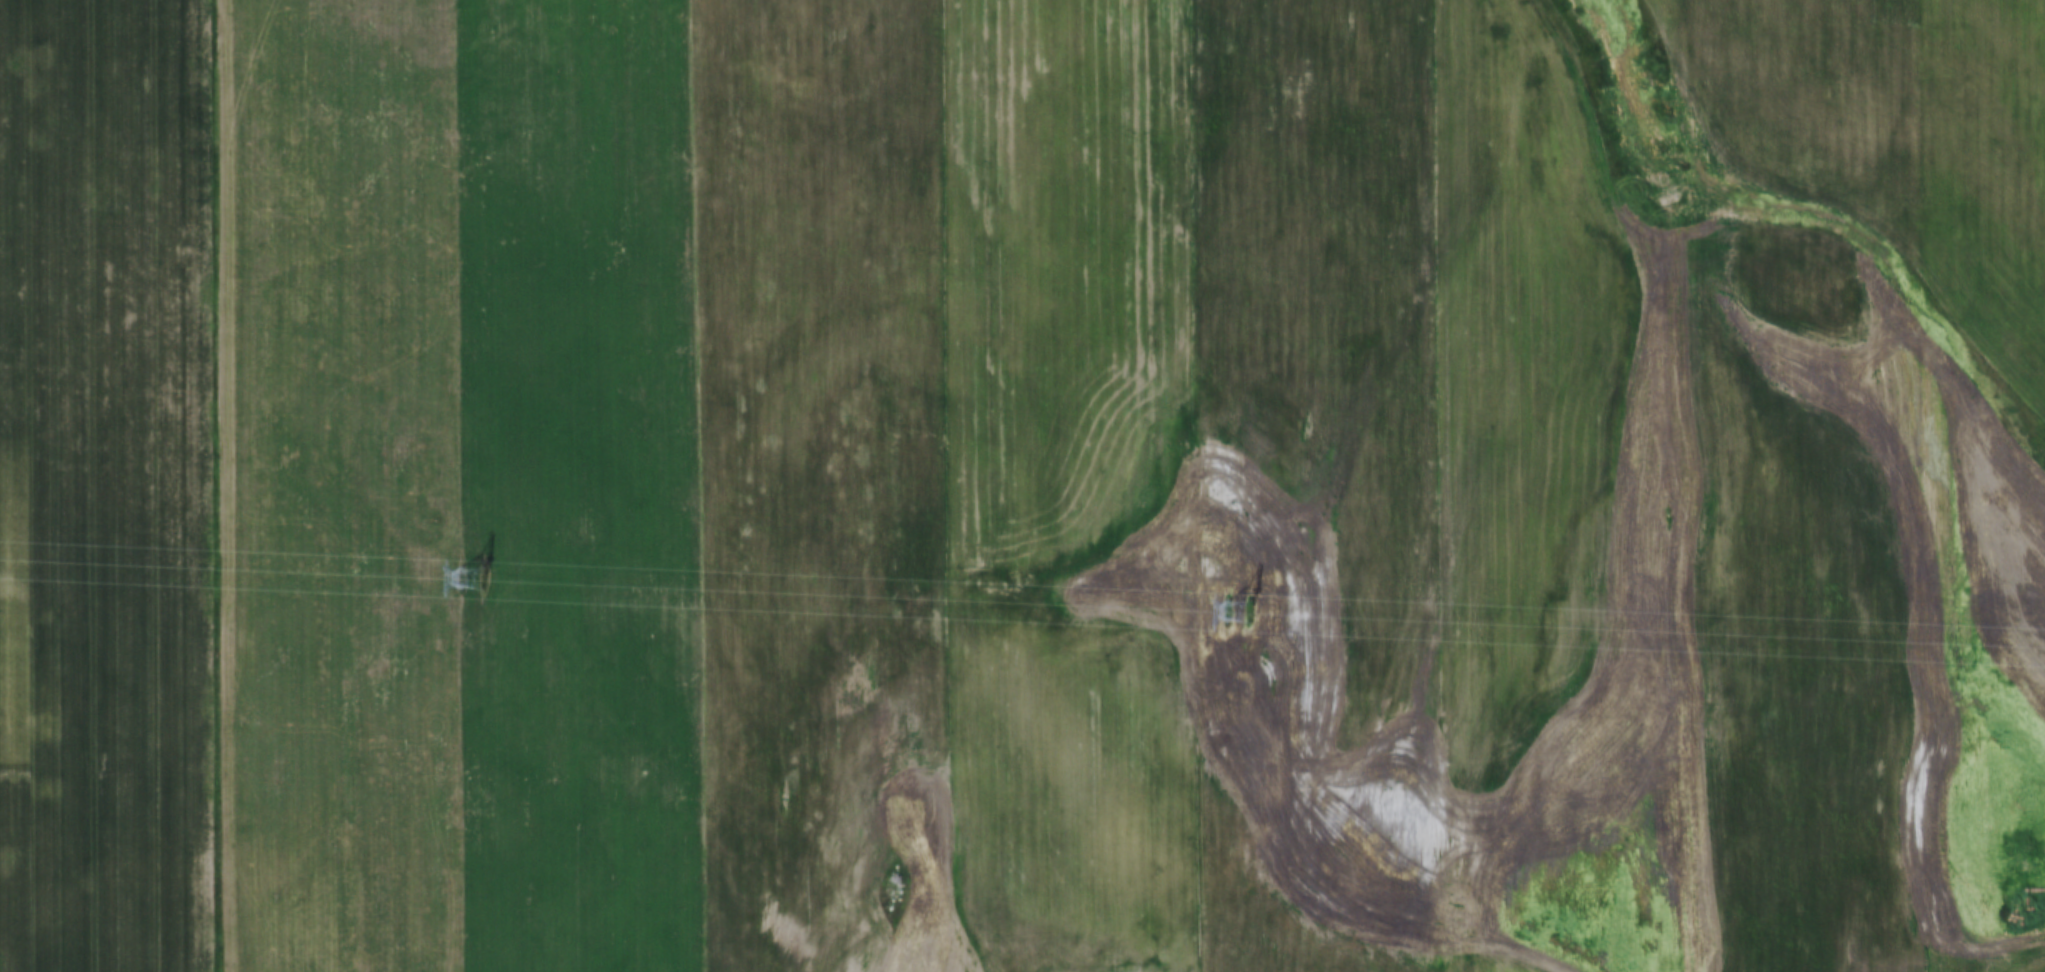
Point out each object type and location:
power tower: (465, 561)
power tower: (1233, 603)

